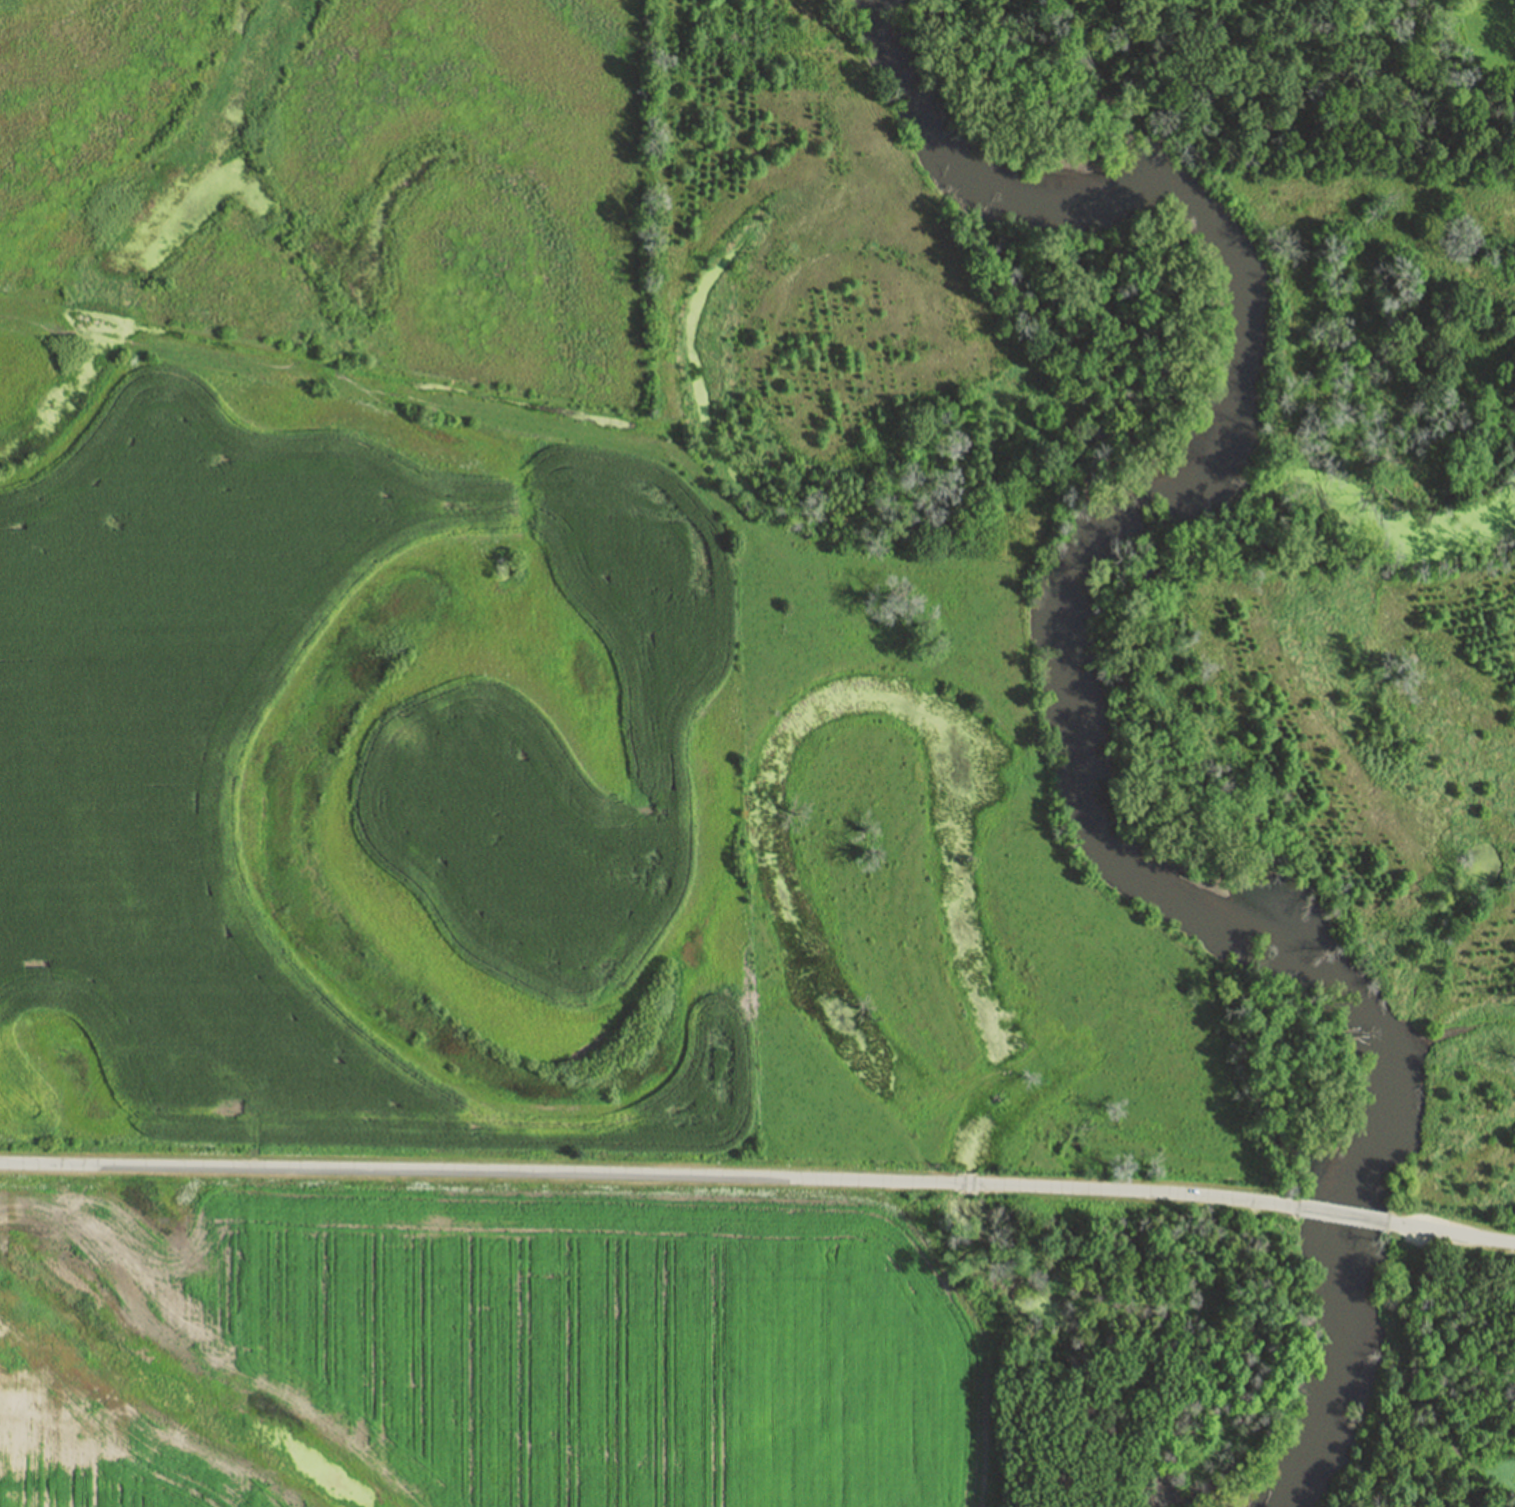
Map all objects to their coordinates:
river: (1076, 696)
road: (658, 1179)
road: (1357, 1221)
road: (1456, 1239)
road: (1160, 1335)

